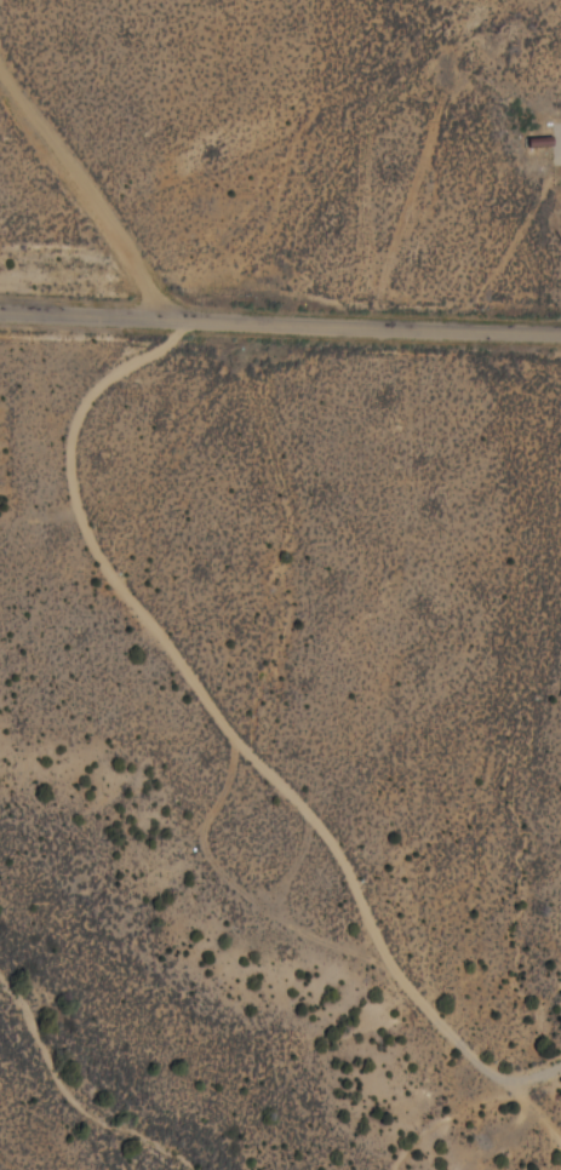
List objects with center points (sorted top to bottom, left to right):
road: (79, 193)
road: (280, 323)
road: (233, 730)
building: (560, 980)
road: (536, 1107)

